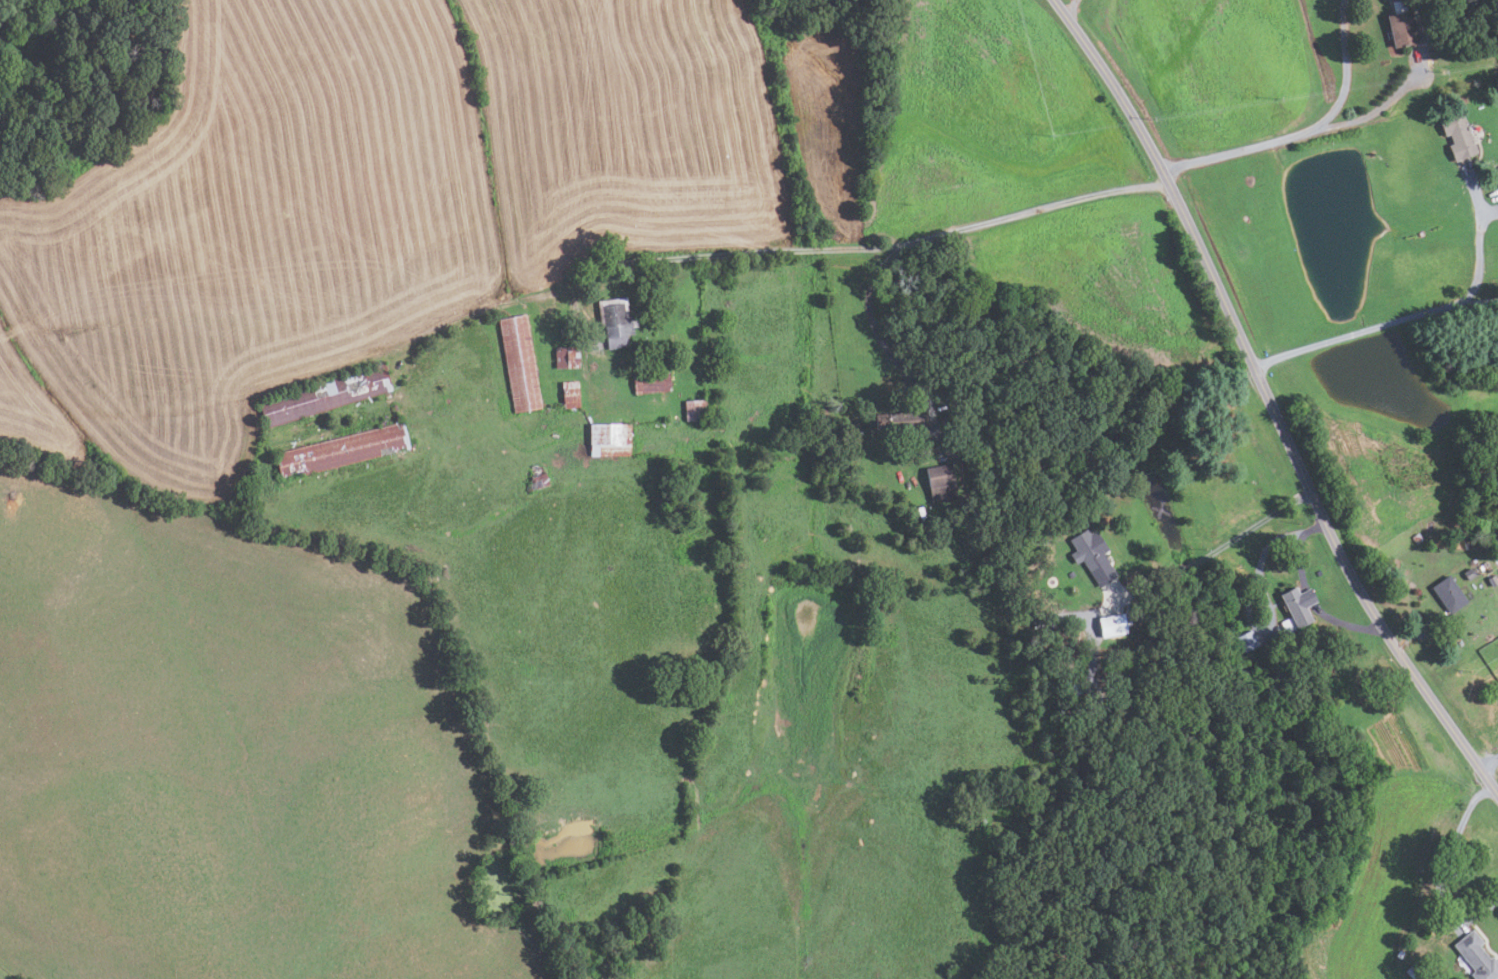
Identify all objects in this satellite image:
road: (1070, 9)
building: (1462, 17)
building: (1402, 30)
crop: (1215, 68)
road: (1347, 75)
road: (1375, 111)
crop: (953, 120)
building: (1457, 134)
road: (1232, 152)
building: (1496, 171)
building: (1496, 177)
road: (1474, 192)
crop: (362, 202)
road: (1488, 216)
road: (837, 250)
road: (1477, 272)
crop: (1100, 284)
road: (1470, 306)
building: (614, 322)
road: (1347, 335)
road: (880, 338)
building: (566, 357)
building: (519, 364)
building: (650, 383)
building: (325, 393)
building: (570, 395)
road: (1268, 401)
building: (694, 410)
building: (899, 422)
building: (609, 441)
building: (922, 449)
building: (341, 452)
building: (538, 480)
building: (940, 483)
building: (1416, 537)
road: (1226, 544)
building: (1091, 554)
building: (1319, 572)
building: (1469, 573)
building: (1070, 574)
building: (1492, 580)
road: (1262, 589)
building: (1449, 594)
road: (1312, 602)
building: (1298, 604)
building: (1112, 625)
road: (1420, 632)
building: (1247, 640)
road: (1488, 763)
crop: (1390, 846)
road: (1443, 869)
building: (1400, 954)
building: (1477, 957)
building: (1414, 970)

